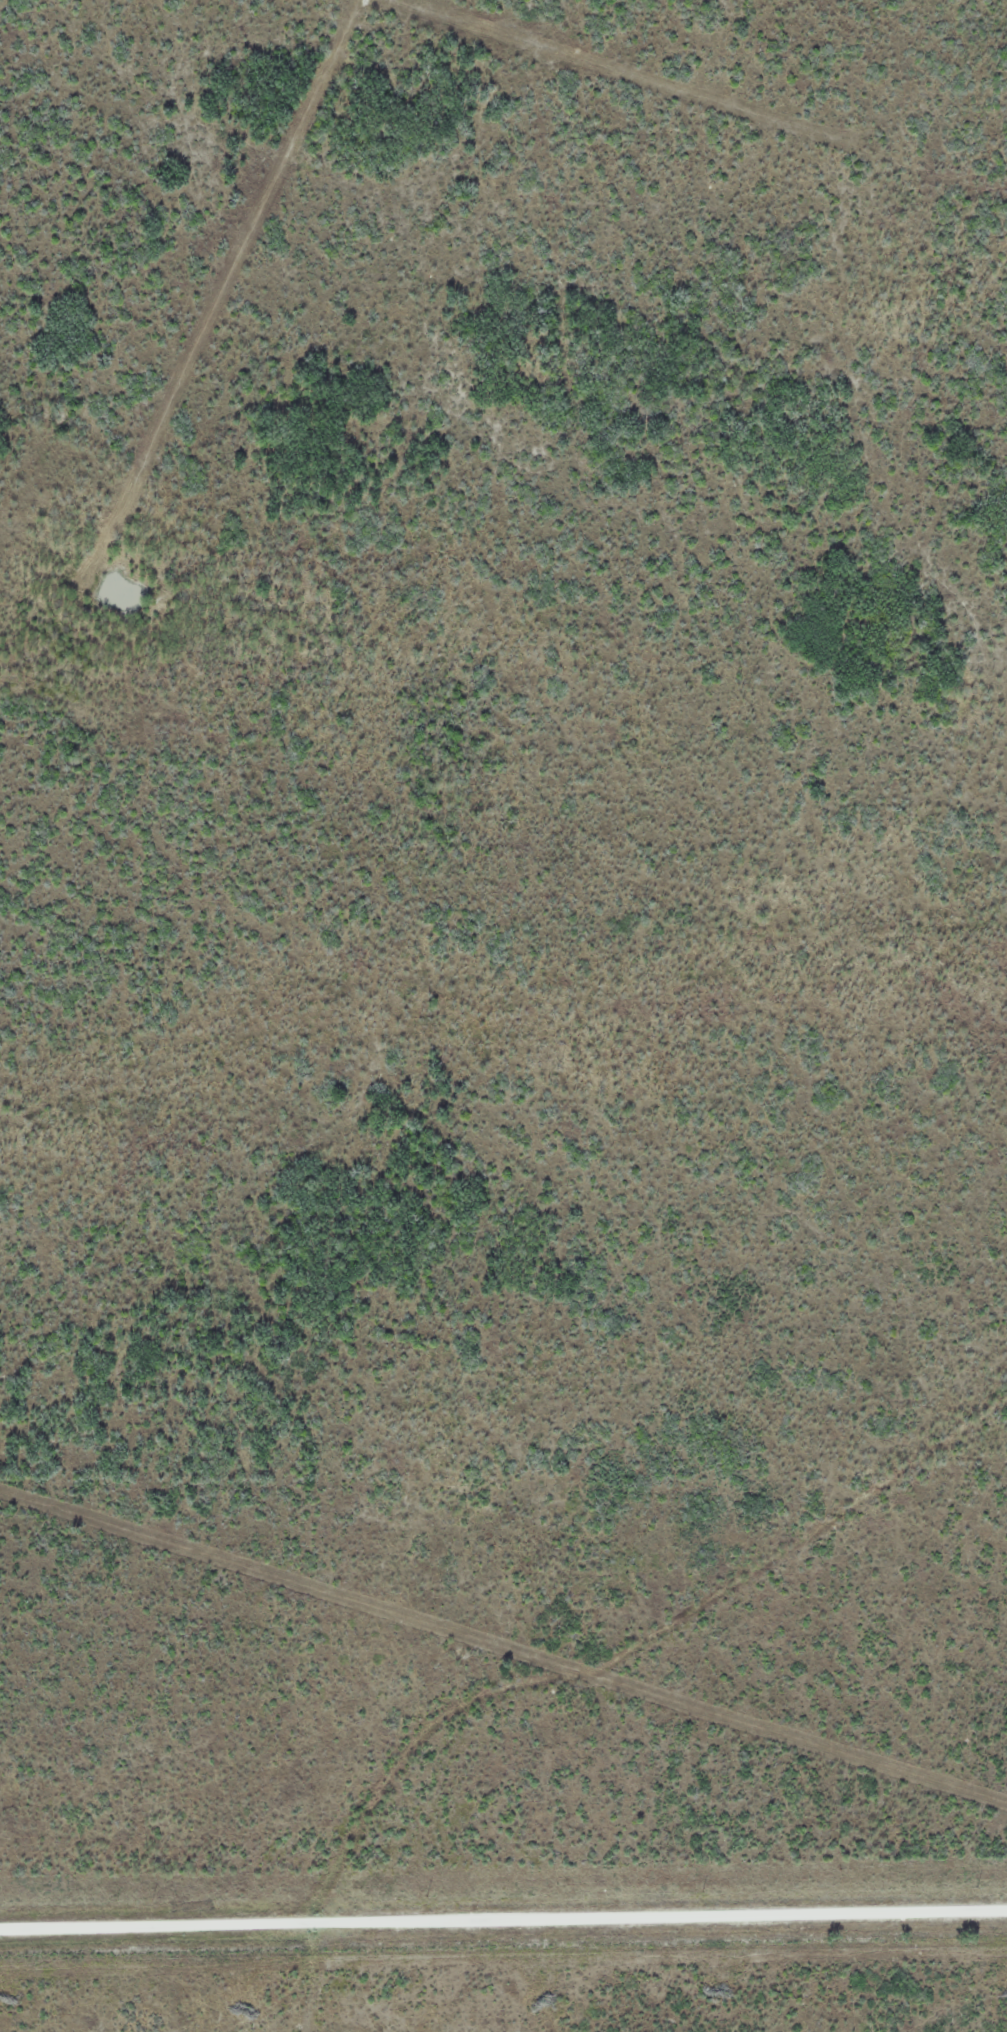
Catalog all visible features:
road: (503, 1938)

